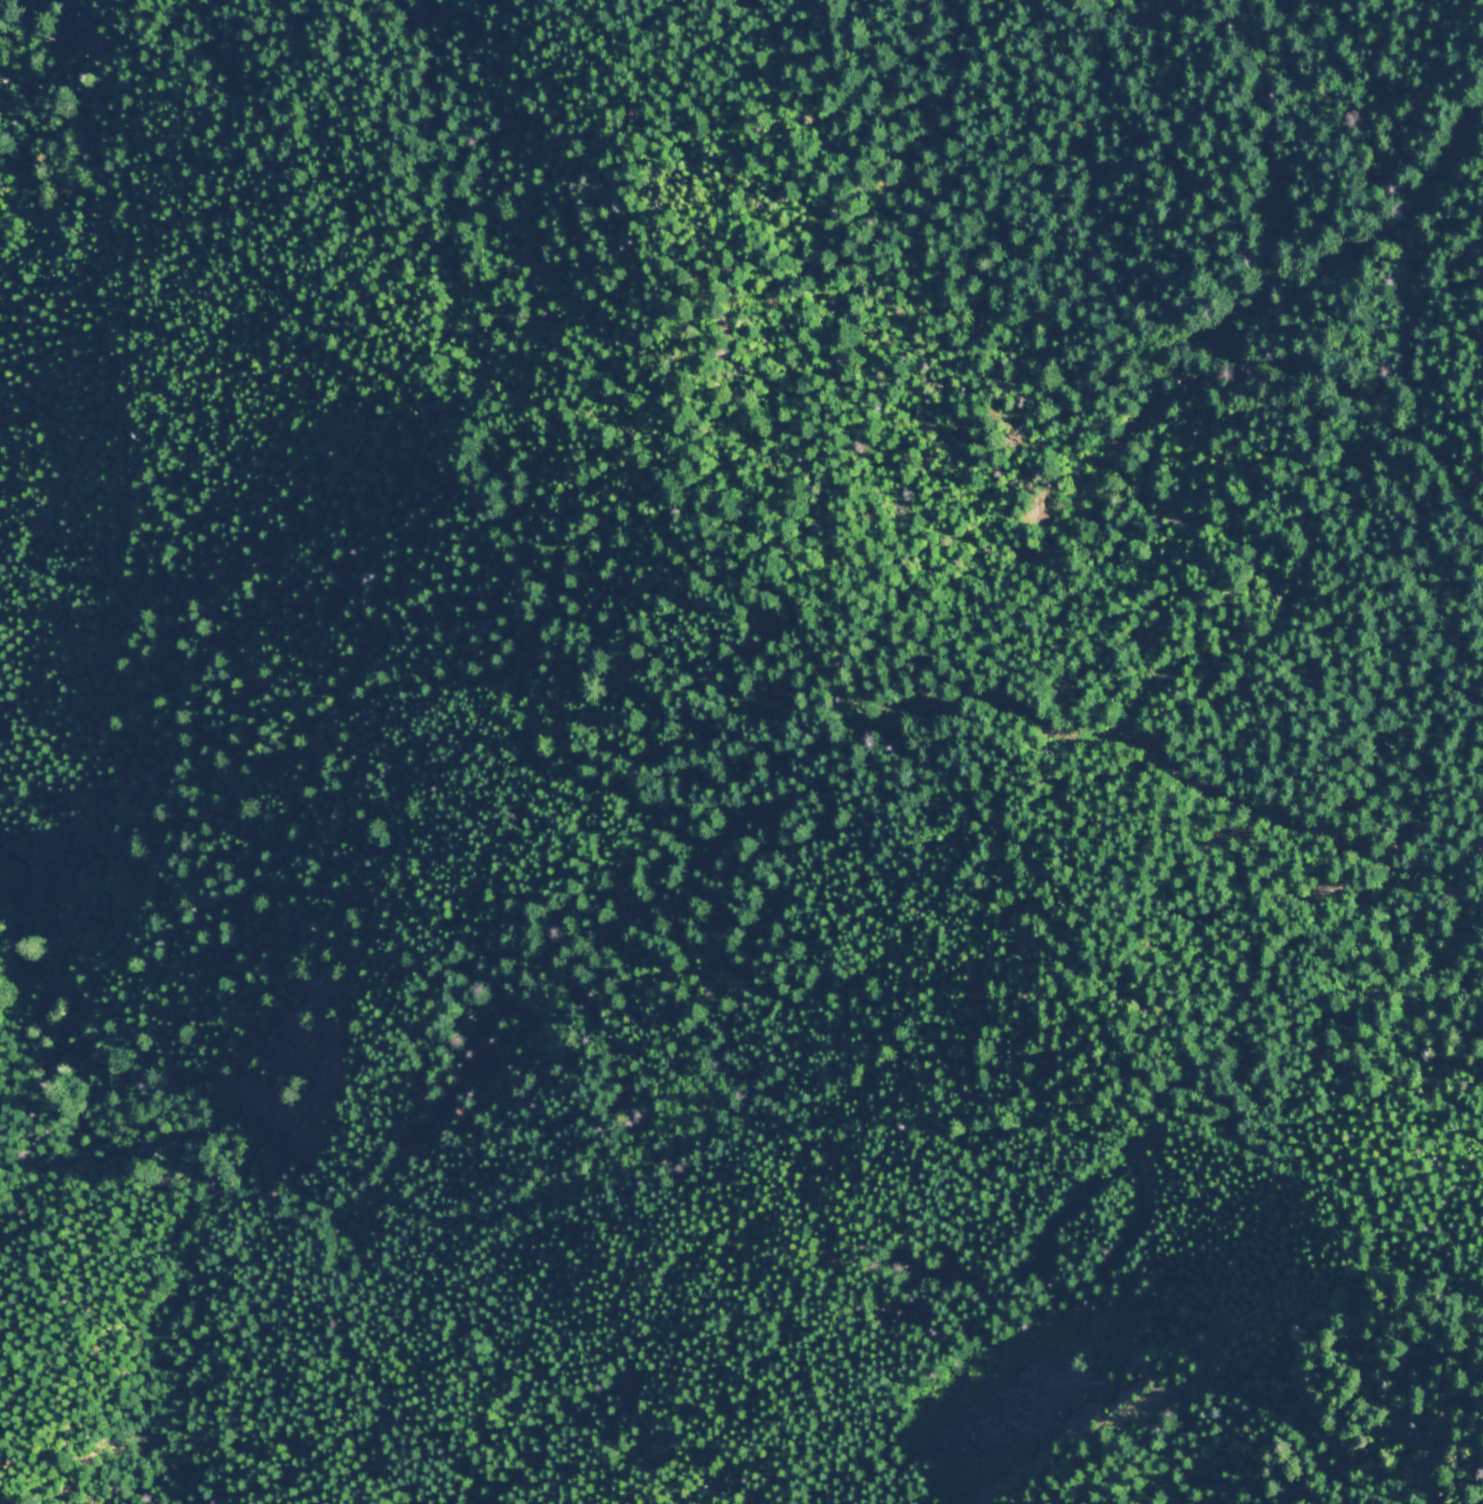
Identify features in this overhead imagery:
road: (1273, 1358)

